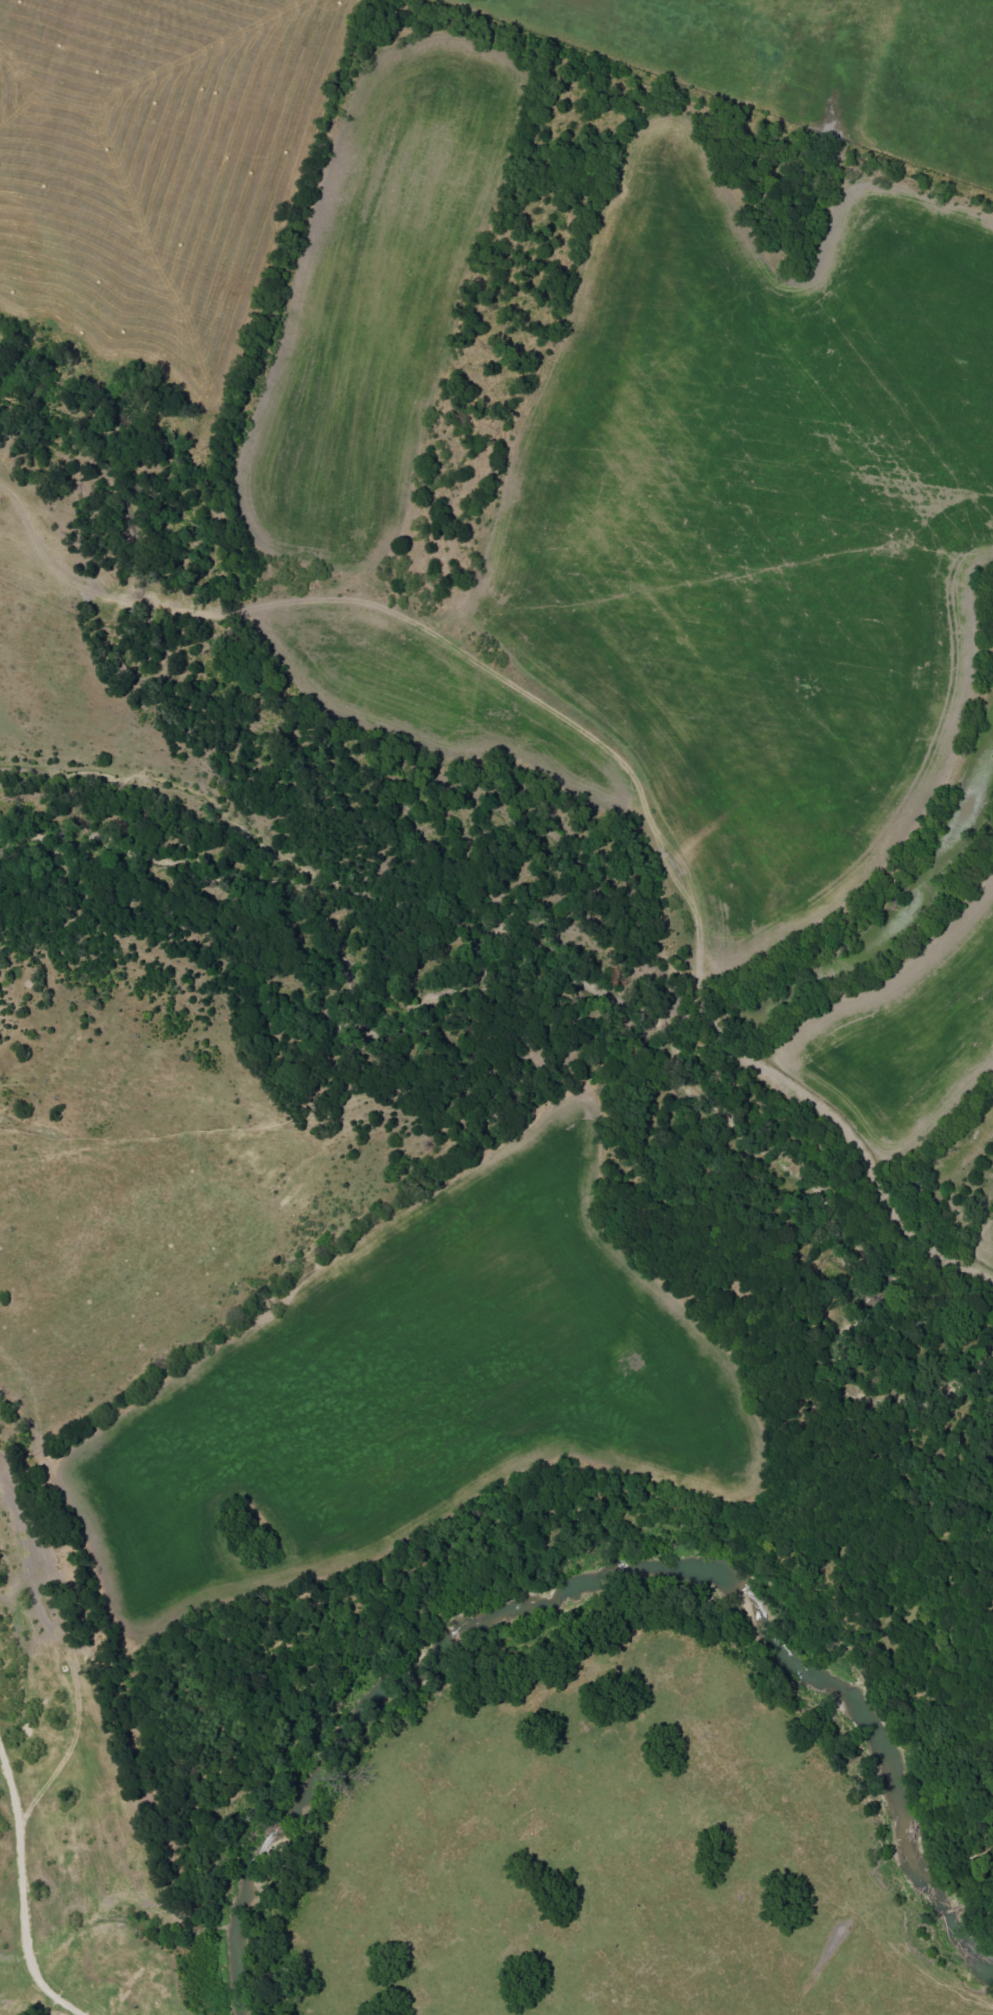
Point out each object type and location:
river: (584, 1569)
road: (22, 1894)

